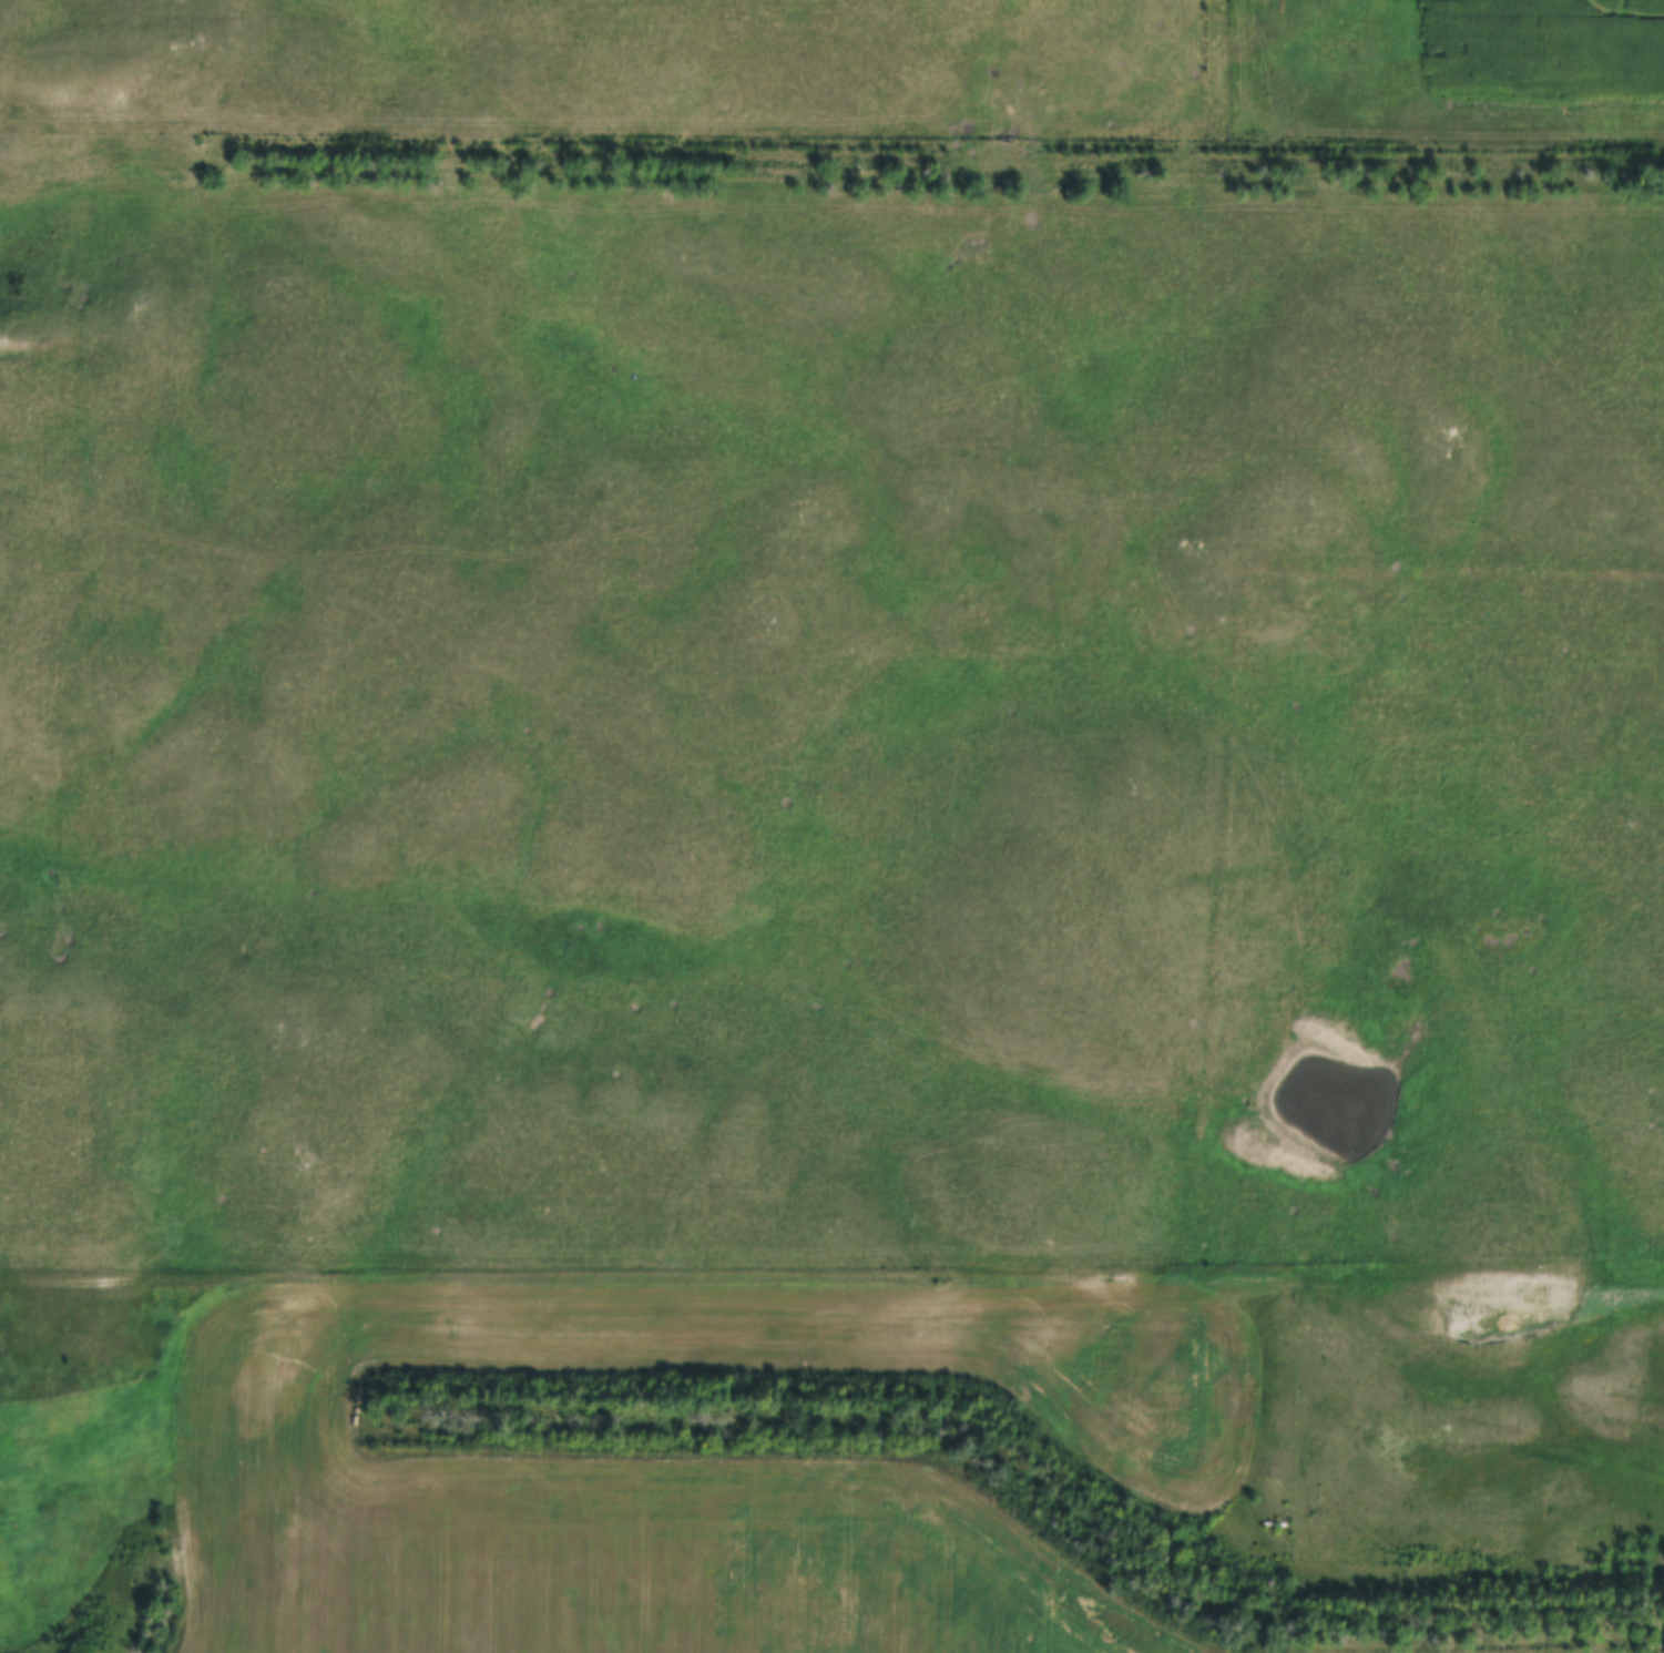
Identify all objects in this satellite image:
road: (831, 1263)

